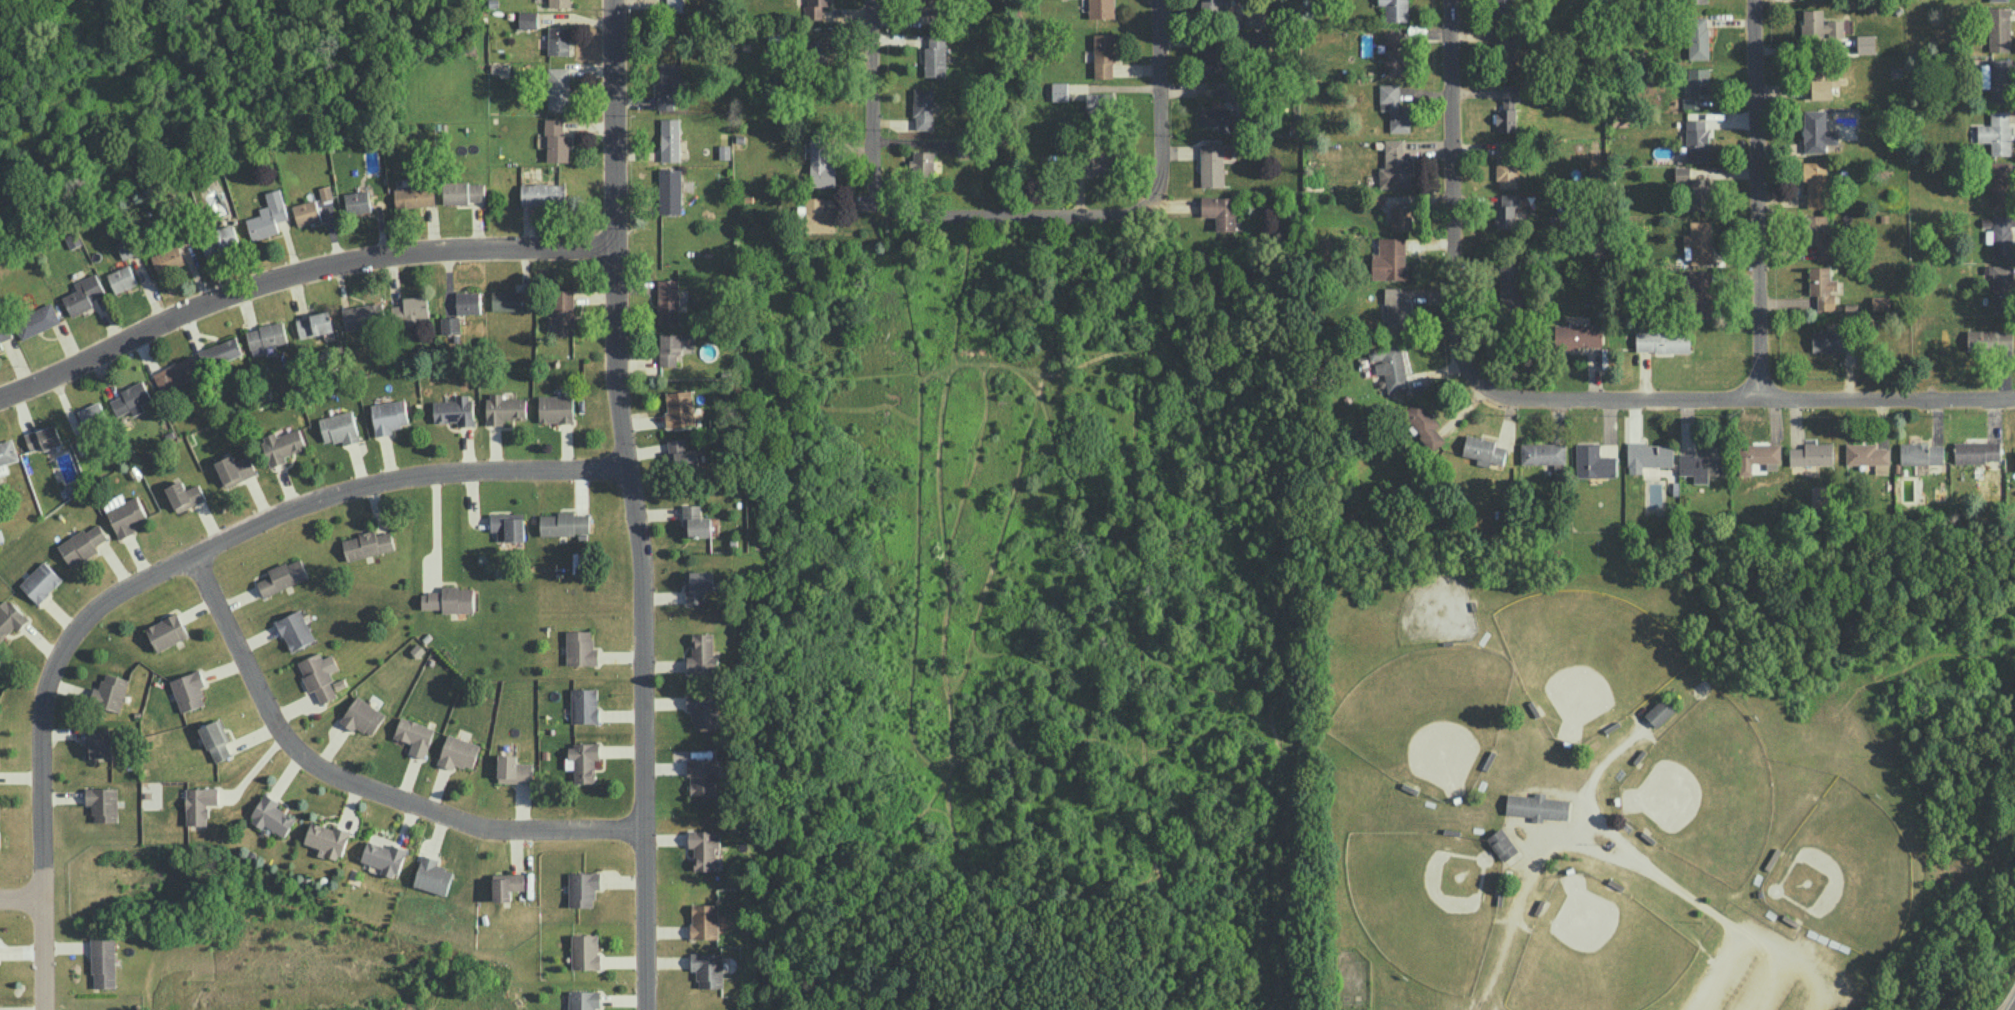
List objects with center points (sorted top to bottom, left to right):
building: (1997, 0)
building: (1696, 1)
building: (559, 3)
building: (674, 5)
building: (815, 8)
building: (1101, 8)
building: (1222, 8)
building: (1503, 8)
building: (930, 9)
building: (1395, 9)
building: (528, 19)
building: (1819, 25)
building: (1998, 29)
building: (1698, 37)
building: (1260, 39)
building: (559, 40)
building: (1865, 43)
building: (822, 49)
building: (1505, 50)
building: (1394, 53)
building: (1104, 55)
building: (935, 57)
building: (1214, 59)
building: (1997, 79)
building: (1699, 82)
building: (1820, 85)
building: (667, 86)
building: (558, 88)
building: (1059, 90)
building: (1099, 101)
road: (871, 103)
road: (1160, 107)
building: (1394, 107)
building: (923, 108)
building: (1507, 108)
building: (1216, 118)
building: (1817, 131)
building: (1996, 132)
building: (670, 139)
building: (1696, 140)
building: (556, 141)
building: (819, 162)
building: (922, 162)
building: (1100, 163)
building: (1212, 164)
building: (1394, 166)
building: (1506, 173)
building: (1815, 183)
building: (2001, 184)
building: (1695, 188)
building: (670, 191)
building: (326, 192)
building: (464, 192)
building: (543, 193)
building: (414, 196)
building: (357, 201)
road: (1756, 201)
road: (1432, 207)
building: (1508, 210)
building: (1220, 211)
building: (306, 212)
building: (268, 215)
building: (819, 215)
building: (1401, 217)
road: (1013, 222)
building: (1819, 234)
building: (2003, 237)
building: (219, 239)
building: (1698, 241)
building: (126, 247)
building: (168, 258)
building: (1389, 259)
road: (296, 274)
building: (122, 278)
building: (1510, 285)
building: (1822, 287)
building: (2002, 288)
building: (85, 293)
building: (1701, 293)
building: (506, 300)
building: (668, 301)
building: (468, 302)
building: (1880, 302)
building: (563, 311)
building: (1396, 311)
building: (364, 315)
building: (36, 320)
building: (314, 324)
building: (450, 324)
building: (4, 334)
building: (1578, 335)
building: (266, 337)
building: (1989, 339)
building: (1827, 340)
building: (1662, 341)
building: (673, 346)
building: (220, 351)
building: (1390, 365)
building: (177, 374)
building: (131, 399)
road: (1743, 402)
building: (504, 408)
building: (556, 408)
building: (679, 408)
building: (455, 410)
building: (92, 414)
building: (389, 416)
building: (1423, 423)
building: (339, 427)
building: (43, 437)
building: (282, 445)
building: (1483, 450)
building: (1976, 451)
building: (1811, 453)
building: (1921, 453)
building: (7, 454)
building: (1544, 454)
building: (683, 455)
building: (1648, 455)
building: (1758, 456)
building: (1868, 456)
building: (1593, 461)
building: (1701, 463)
building: (235, 469)
building: (184, 494)
road: (635, 504)
building: (126, 516)
building: (695, 521)
building: (565, 524)
building: (508, 525)
road: (435, 529)
building: (82, 544)
building: (367, 544)
road: (160, 574)
building: (283, 576)
building: (41, 581)
building: (697, 585)
building: (449, 599)
building: (10, 617)
building: (295, 630)
building: (167, 631)
building: (581, 648)
building: (702, 654)
park: (1589, 660)
building: (319, 674)
building: (189, 690)
building: (110, 691)
building: (584, 705)
building: (703, 709)
building: (1659, 711)
building: (362, 715)
park: (1427, 717)
building: (415, 736)
building: (216, 739)
building: (103, 746)
building: (458, 752)
building: (582, 760)
building: (513, 769)
building: (702, 776)
road: (359, 788)
park: (1705, 794)
building: (103, 803)
building: (200, 804)
building: (1537, 806)
building: (272, 815)
building: (327, 839)
building: (1502, 844)
building: (703, 848)
building: (384, 857)
building: (432, 875)
park: (1844, 877)
road: (1662, 878)
building: (506, 885)
building: (583, 888)
road: (21, 900)
park: (1428, 904)
building: (704, 921)
building: (585, 951)
park: (1598, 954)
road: (1784, 954)
building: (103, 962)
building: (708, 968)
road: (1715, 971)
building: (584, 1000)

